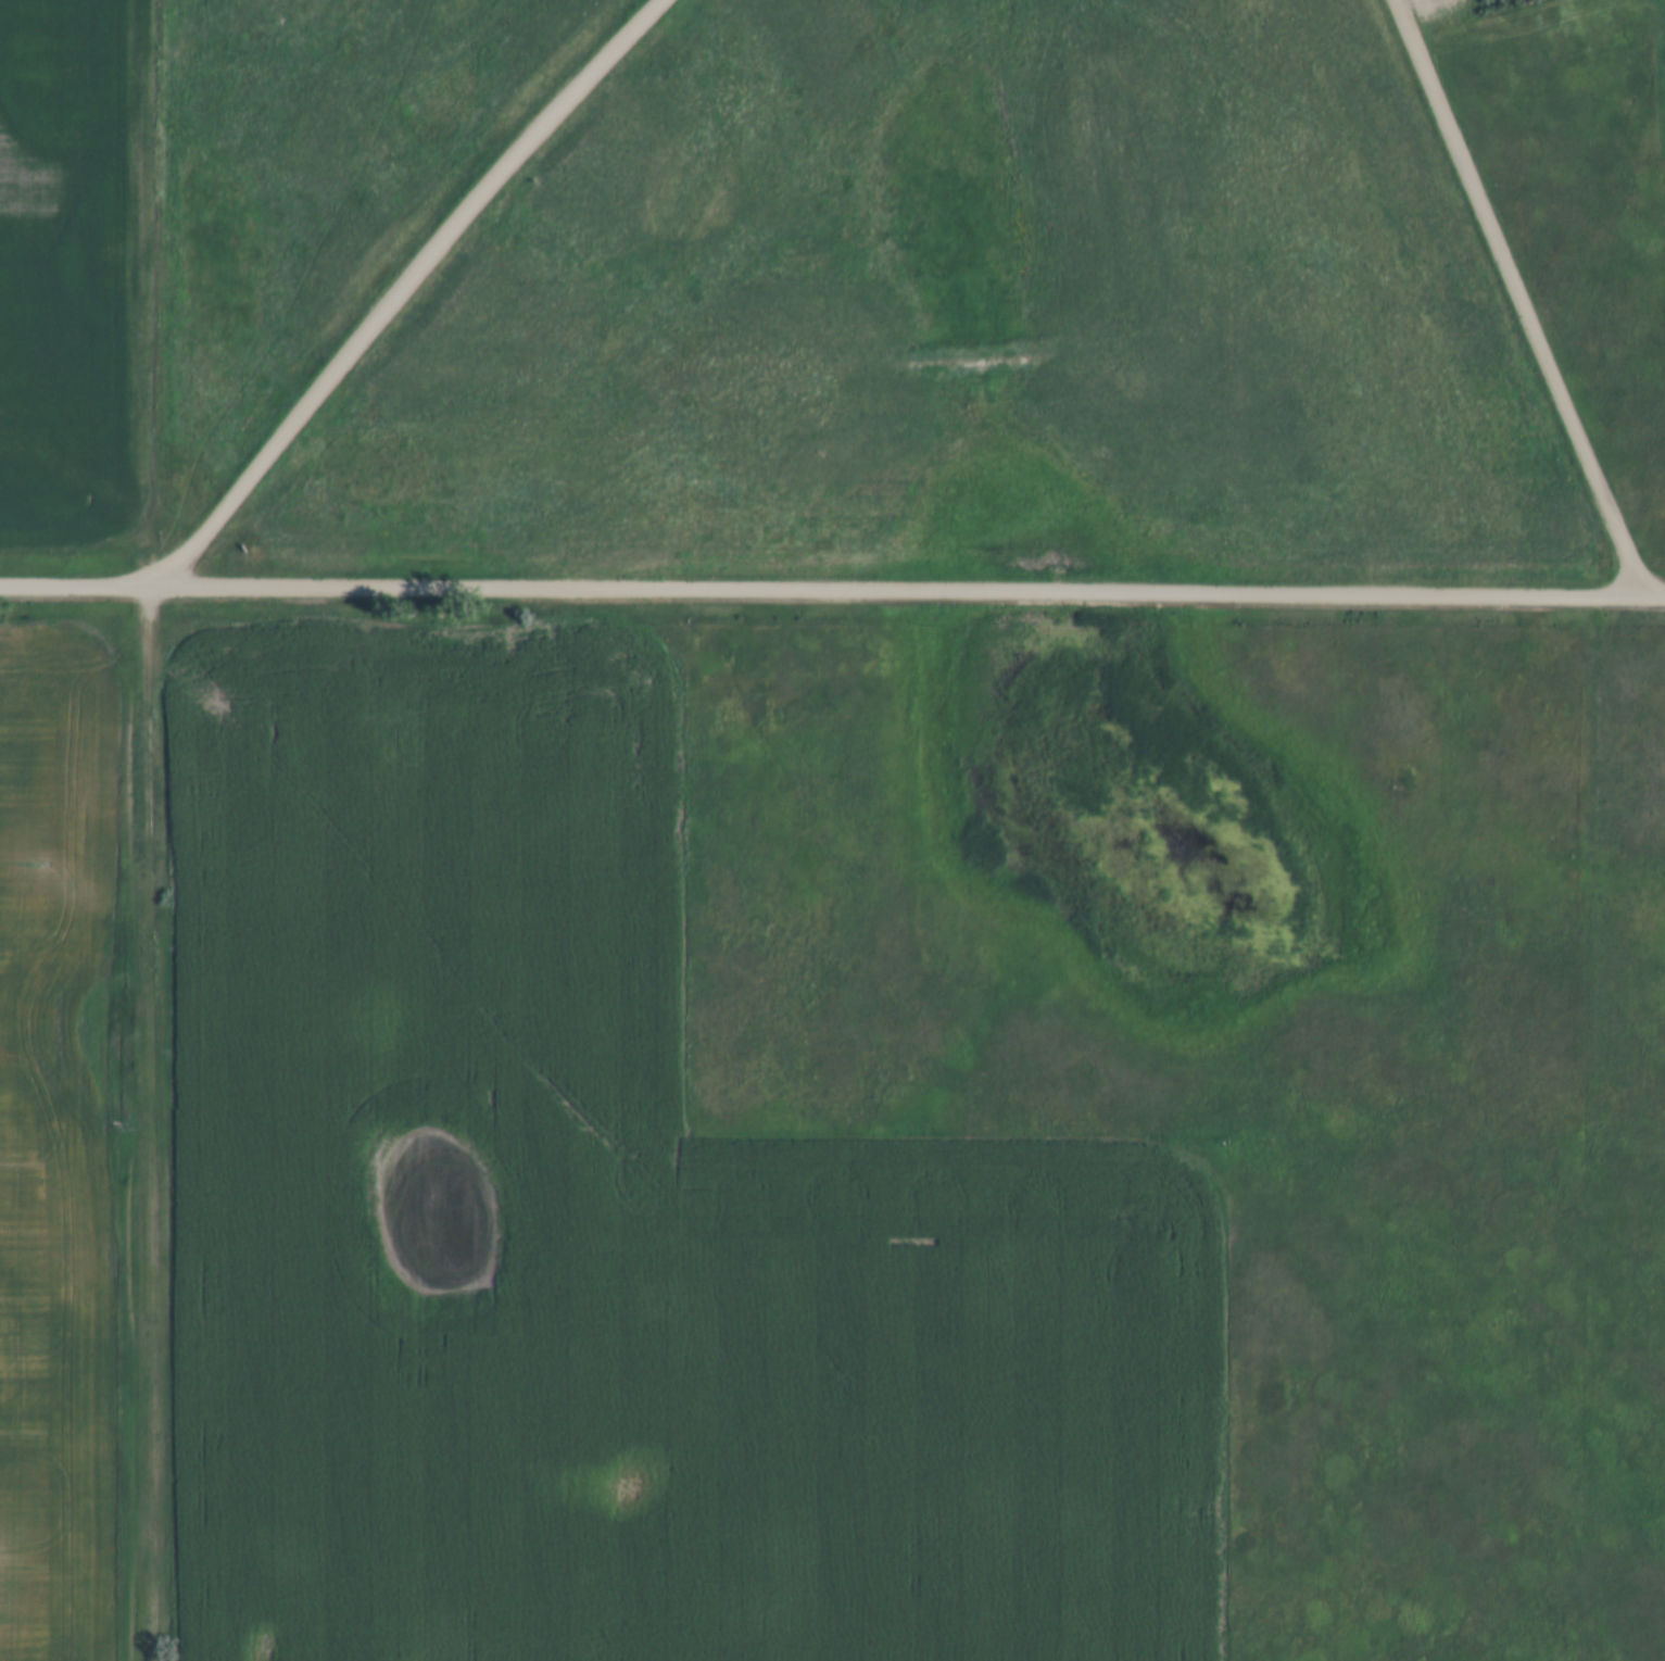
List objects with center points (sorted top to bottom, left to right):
road: (402, 289)
road: (1521, 298)
road: (832, 589)
road: (154, 1123)

